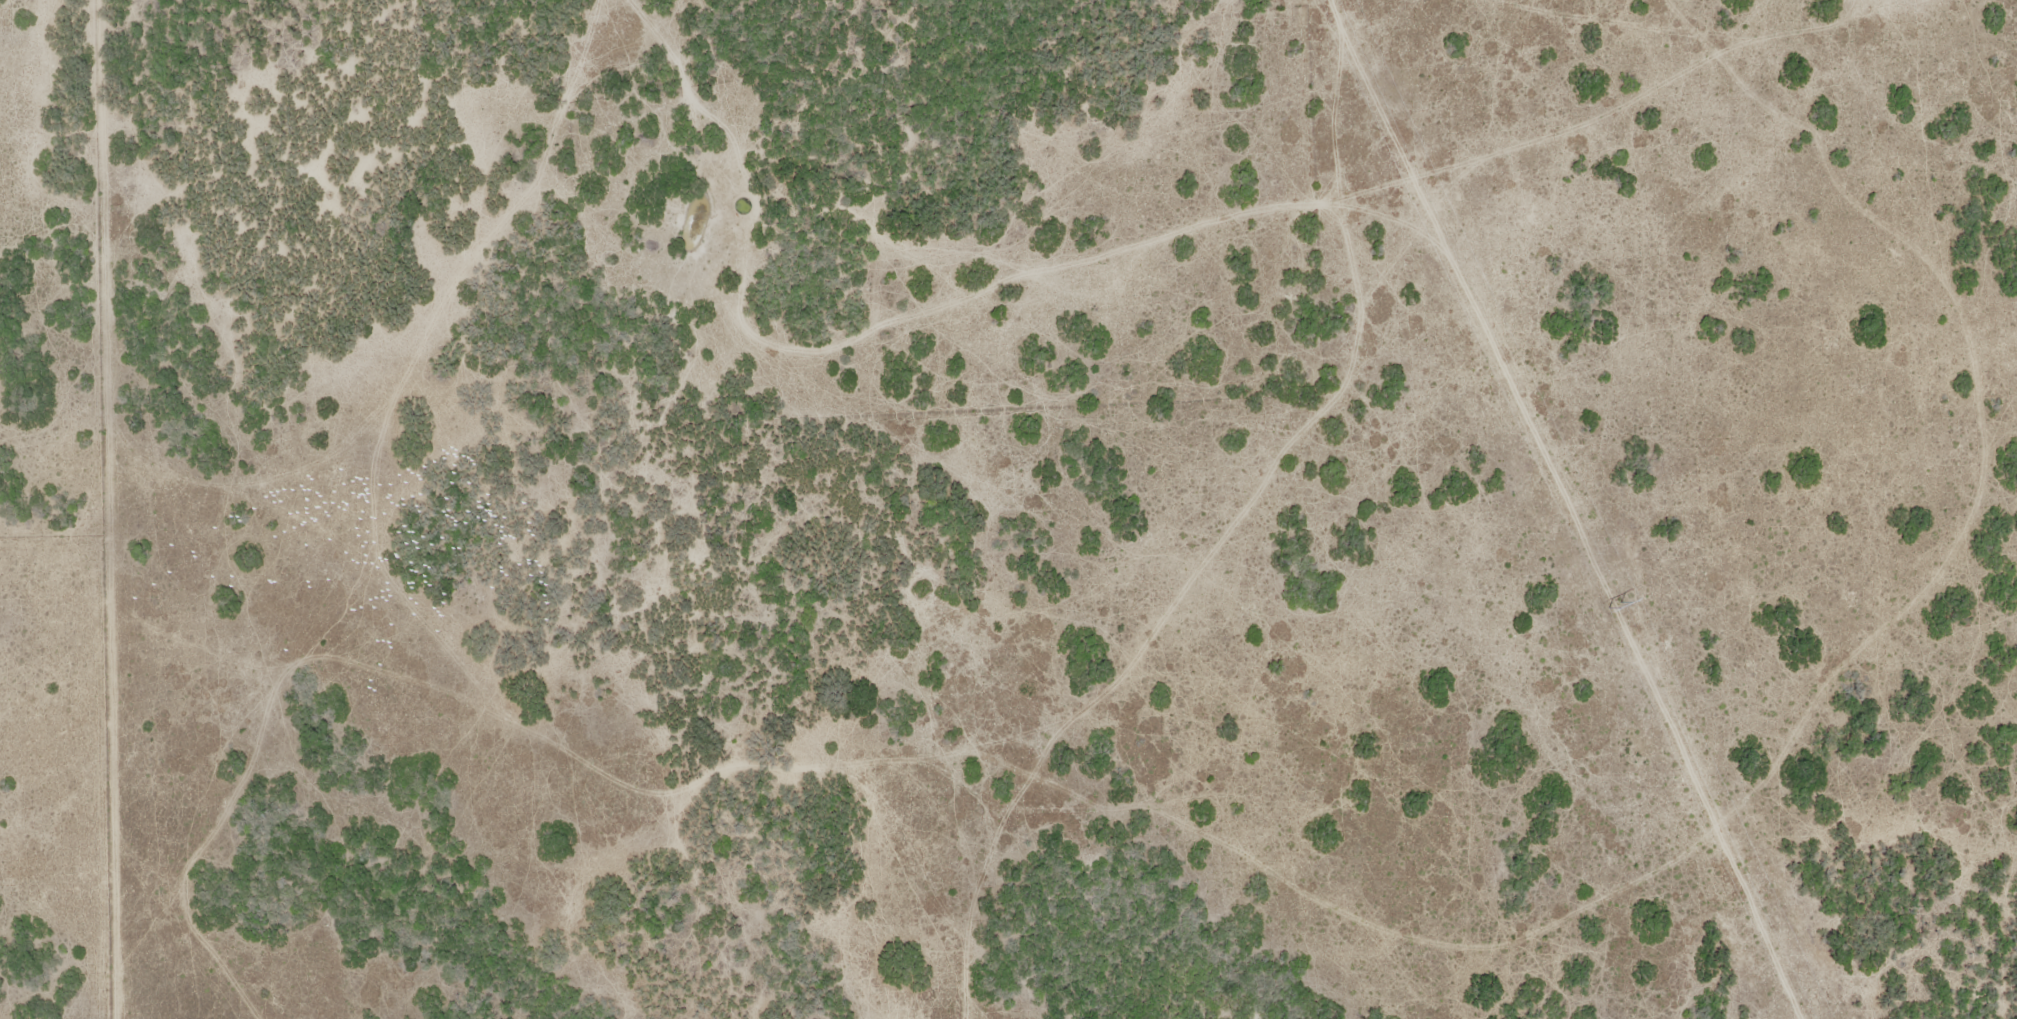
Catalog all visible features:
road: (492, 243)
power tower: (1615, 606)
road: (809, 787)
road: (1041, 796)
road: (987, 881)

